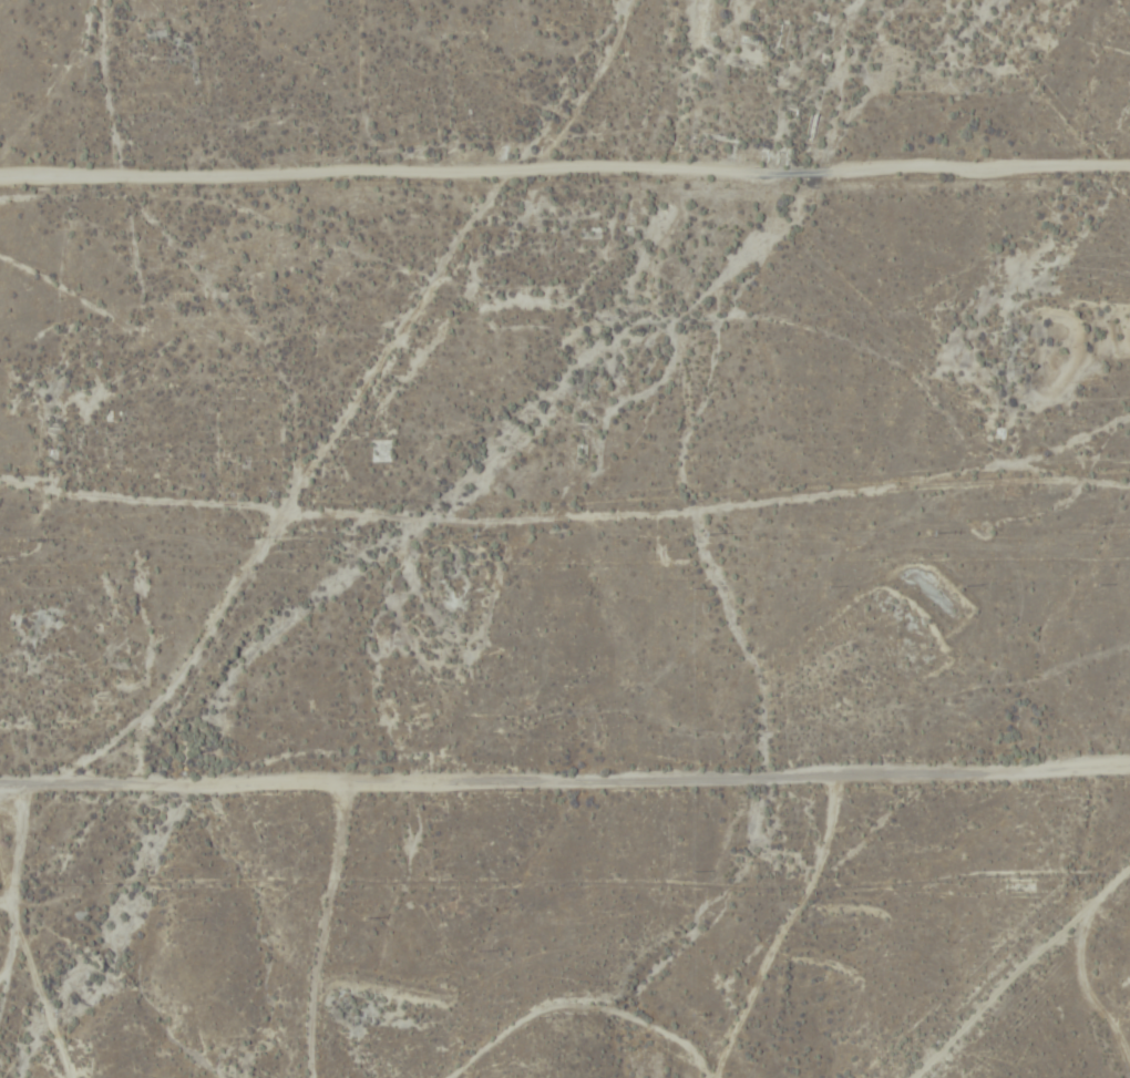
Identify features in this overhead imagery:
road: (564, 790)

